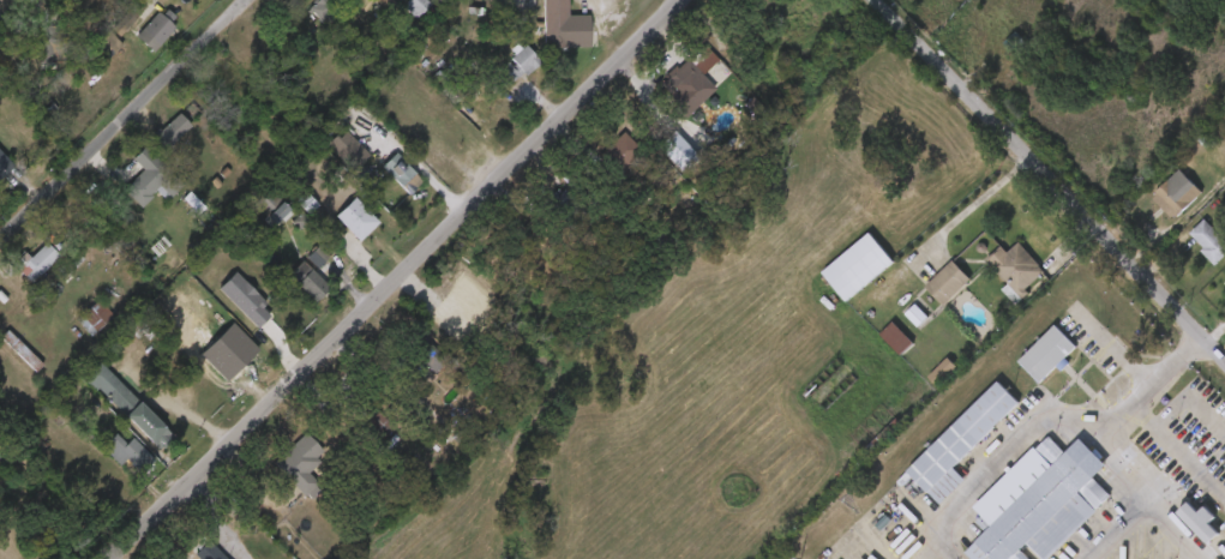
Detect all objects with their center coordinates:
building: (328, 8)
building: (396, 14)
building: (301, 17)
building: (565, 25)
building: (158, 31)
building: (544, 34)
building: (138, 37)
building: (52, 38)
building: (517, 66)
building: (499, 74)
building: (685, 76)
road: (124, 120)
building: (173, 131)
building: (152, 140)
building: (625, 154)
building: (654, 158)
building: (600, 161)
building: (5, 164)
road: (1053, 172)
building: (402, 173)
building: (382, 182)
building: (130, 187)
building: (1177, 197)
road: (975, 204)
building: (1154, 204)
building: (568, 205)
building: (544, 210)
building: (252, 216)
building: (336, 228)
building: (1209, 240)
building: (1189, 251)
building: (35, 260)
building: (298, 266)
building: (869, 268)
building: (17, 271)
building: (1016, 271)
building: (836, 276)
road: (391, 277)
building: (996, 277)
building: (313, 282)
building: (948, 283)
building: (1218, 288)
building: (288, 290)
building: (926, 291)
building: (94, 317)
building: (895, 324)
building: (74, 326)
building: (897, 337)
building: (875, 348)
building: (1049, 353)
building: (424, 360)
building: (1026, 362)
building: (921, 381)
building: (831, 383)
road: (326, 397)
building: (126, 403)
road: (1123, 411)
building: (108, 414)
road: (163, 421)
building: (378, 426)
building: (359, 434)
building: (883, 437)
building: (961, 443)
building: (128, 451)
building: (107, 461)
building: (301, 463)
building: (281, 474)
building: (1041, 500)
road: (220, 516)
building: (1200, 519)
road: (1111, 527)
road: (1175, 530)
building: (1178, 530)
building: (209, 551)
building: (188, 555)
road: (1191, 555)
road: (114, 557)

